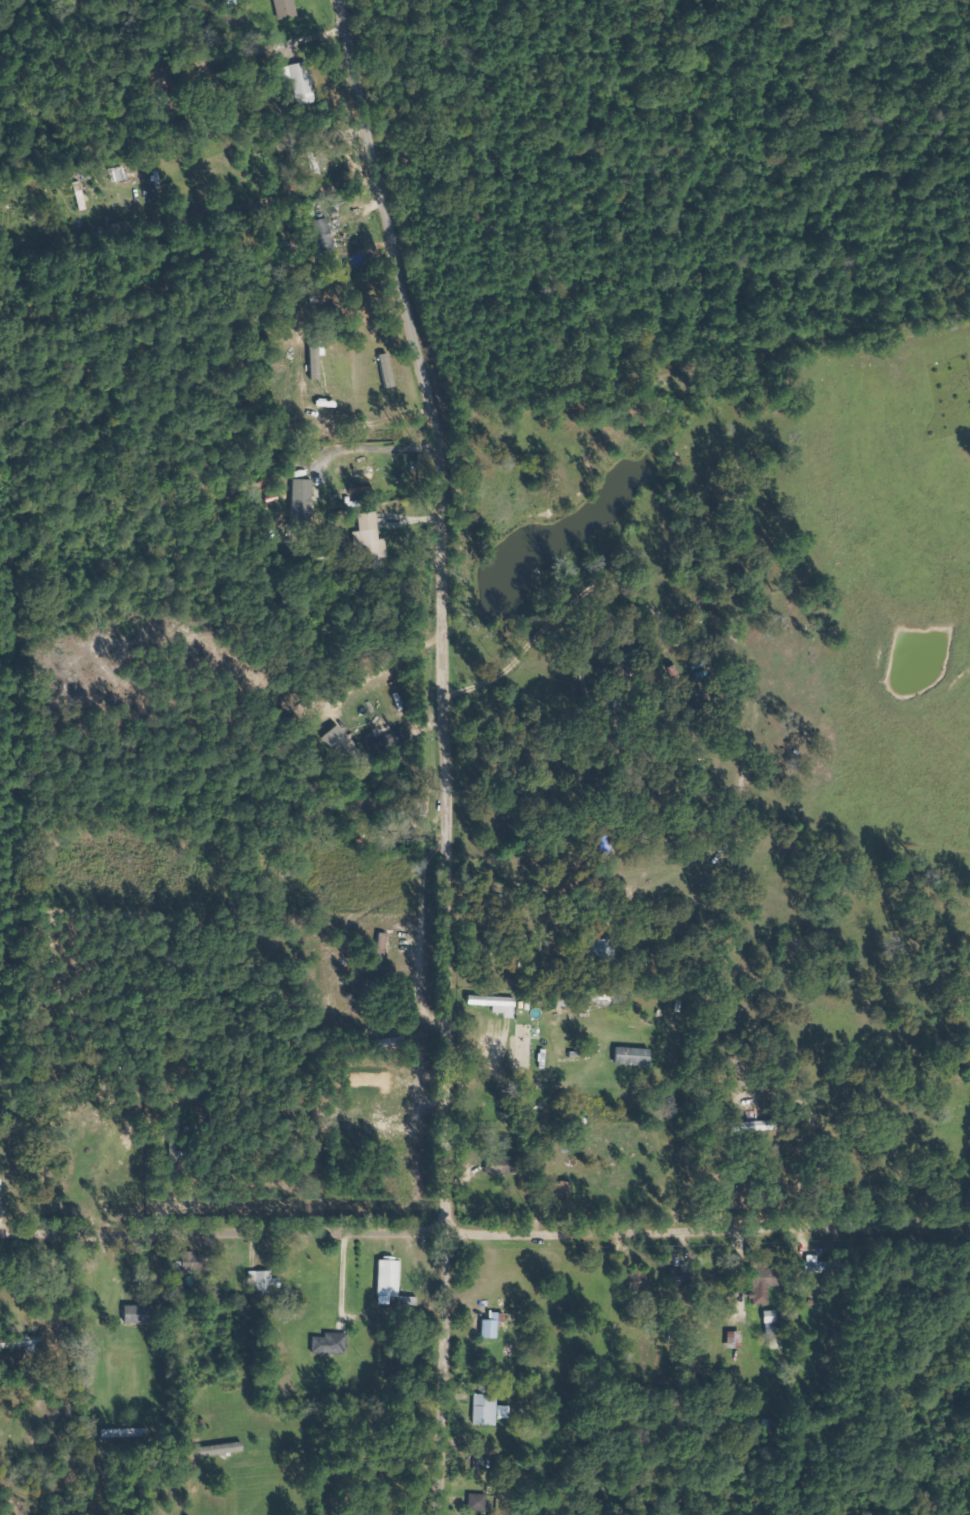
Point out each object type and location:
building: (287, 8)
building: (304, 82)
building: (122, 174)
building: (326, 235)
building: (305, 500)
building: (373, 540)
building: (398, 737)
building: (343, 741)
road: (443, 752)
building: (601, 950)
building: (499, 1004)
building: (636, 1056)
road: (485, 1229)
building: (195, 1262)
building: (822, 1265)
building: (391, 1281)
building: (267, 1283)
building: (765, 1285)
building: (142, 1314)
building: (773, 1317)
building: (737, 1340)
building: (333, 1345)
building: (487, 1409)
building: (506, 1412)
building: (481, 1502)

